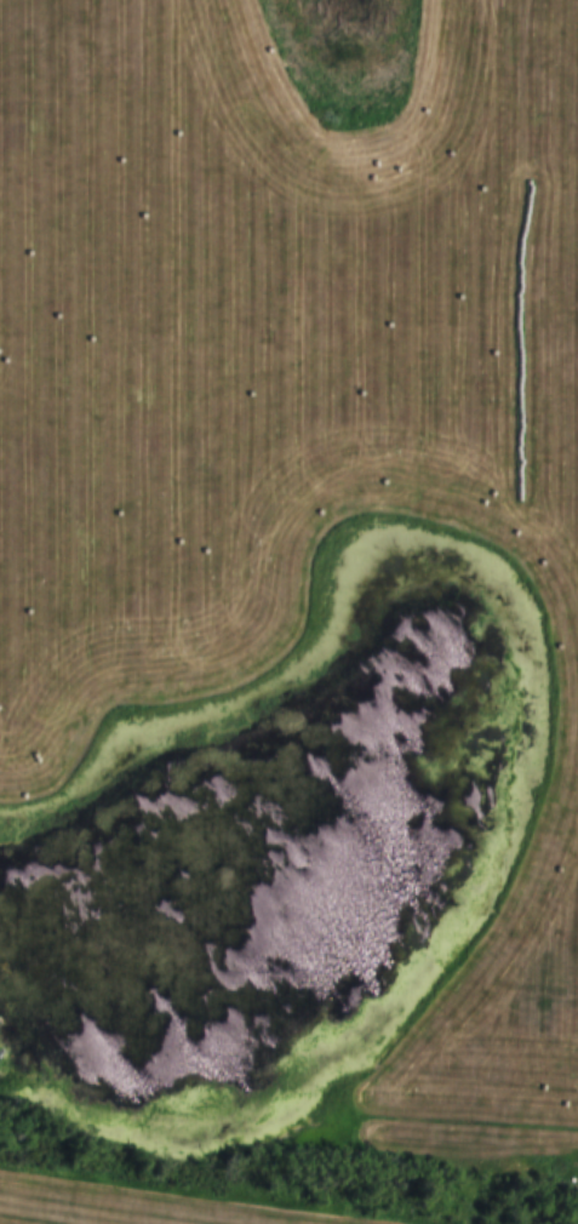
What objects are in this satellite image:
building: (206, 314)
building: (364, 382)
road: (288, 1065)

